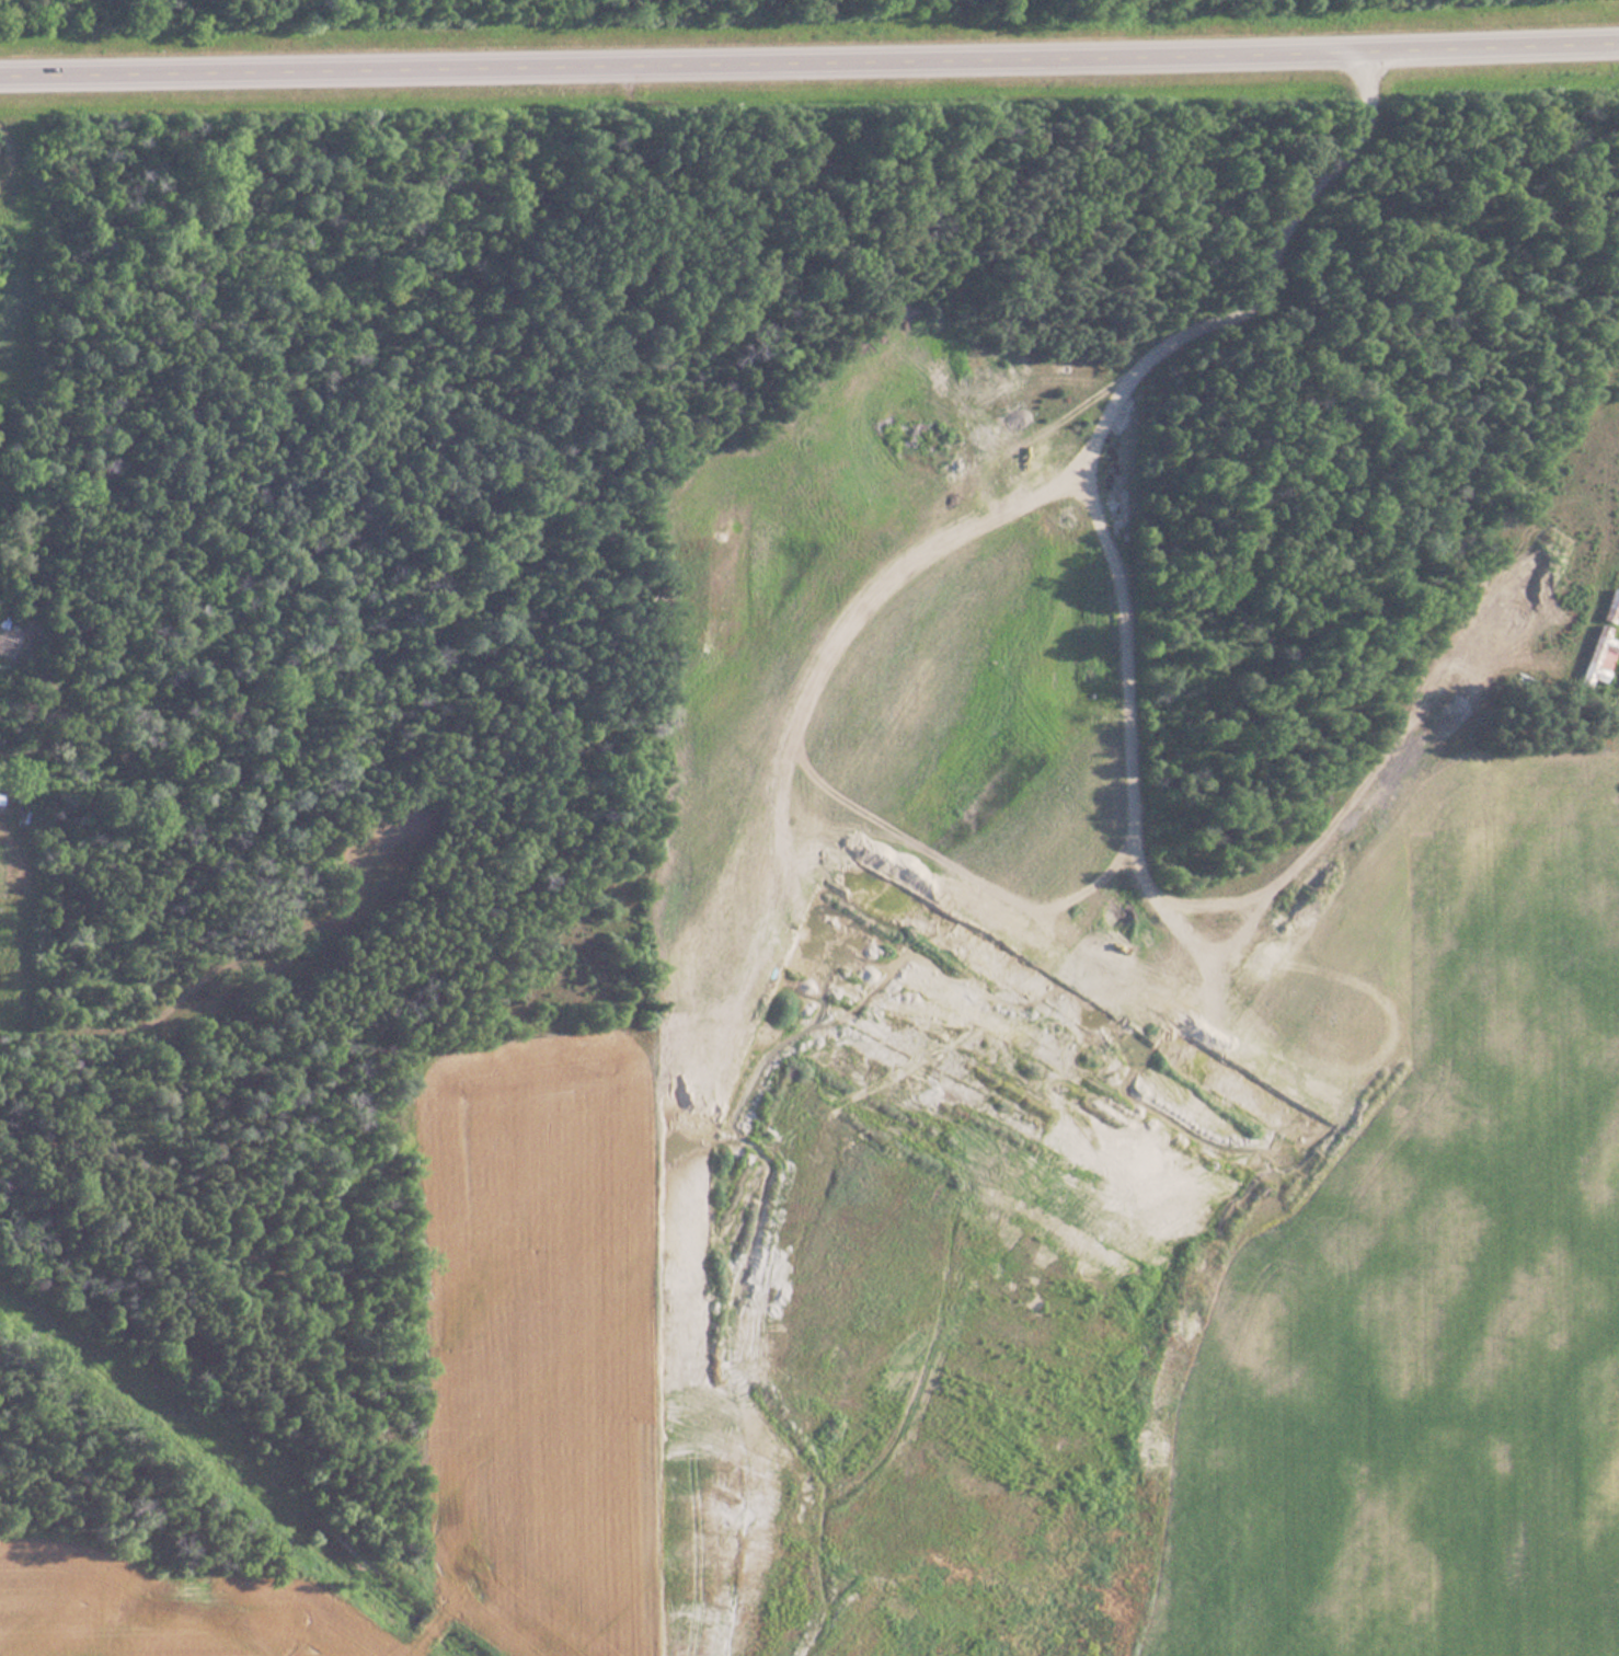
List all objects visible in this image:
road: (1535, 48)
road: (725, 68)
building: (1610, 607)
building: (1595, 659)
building: (1, 801)

